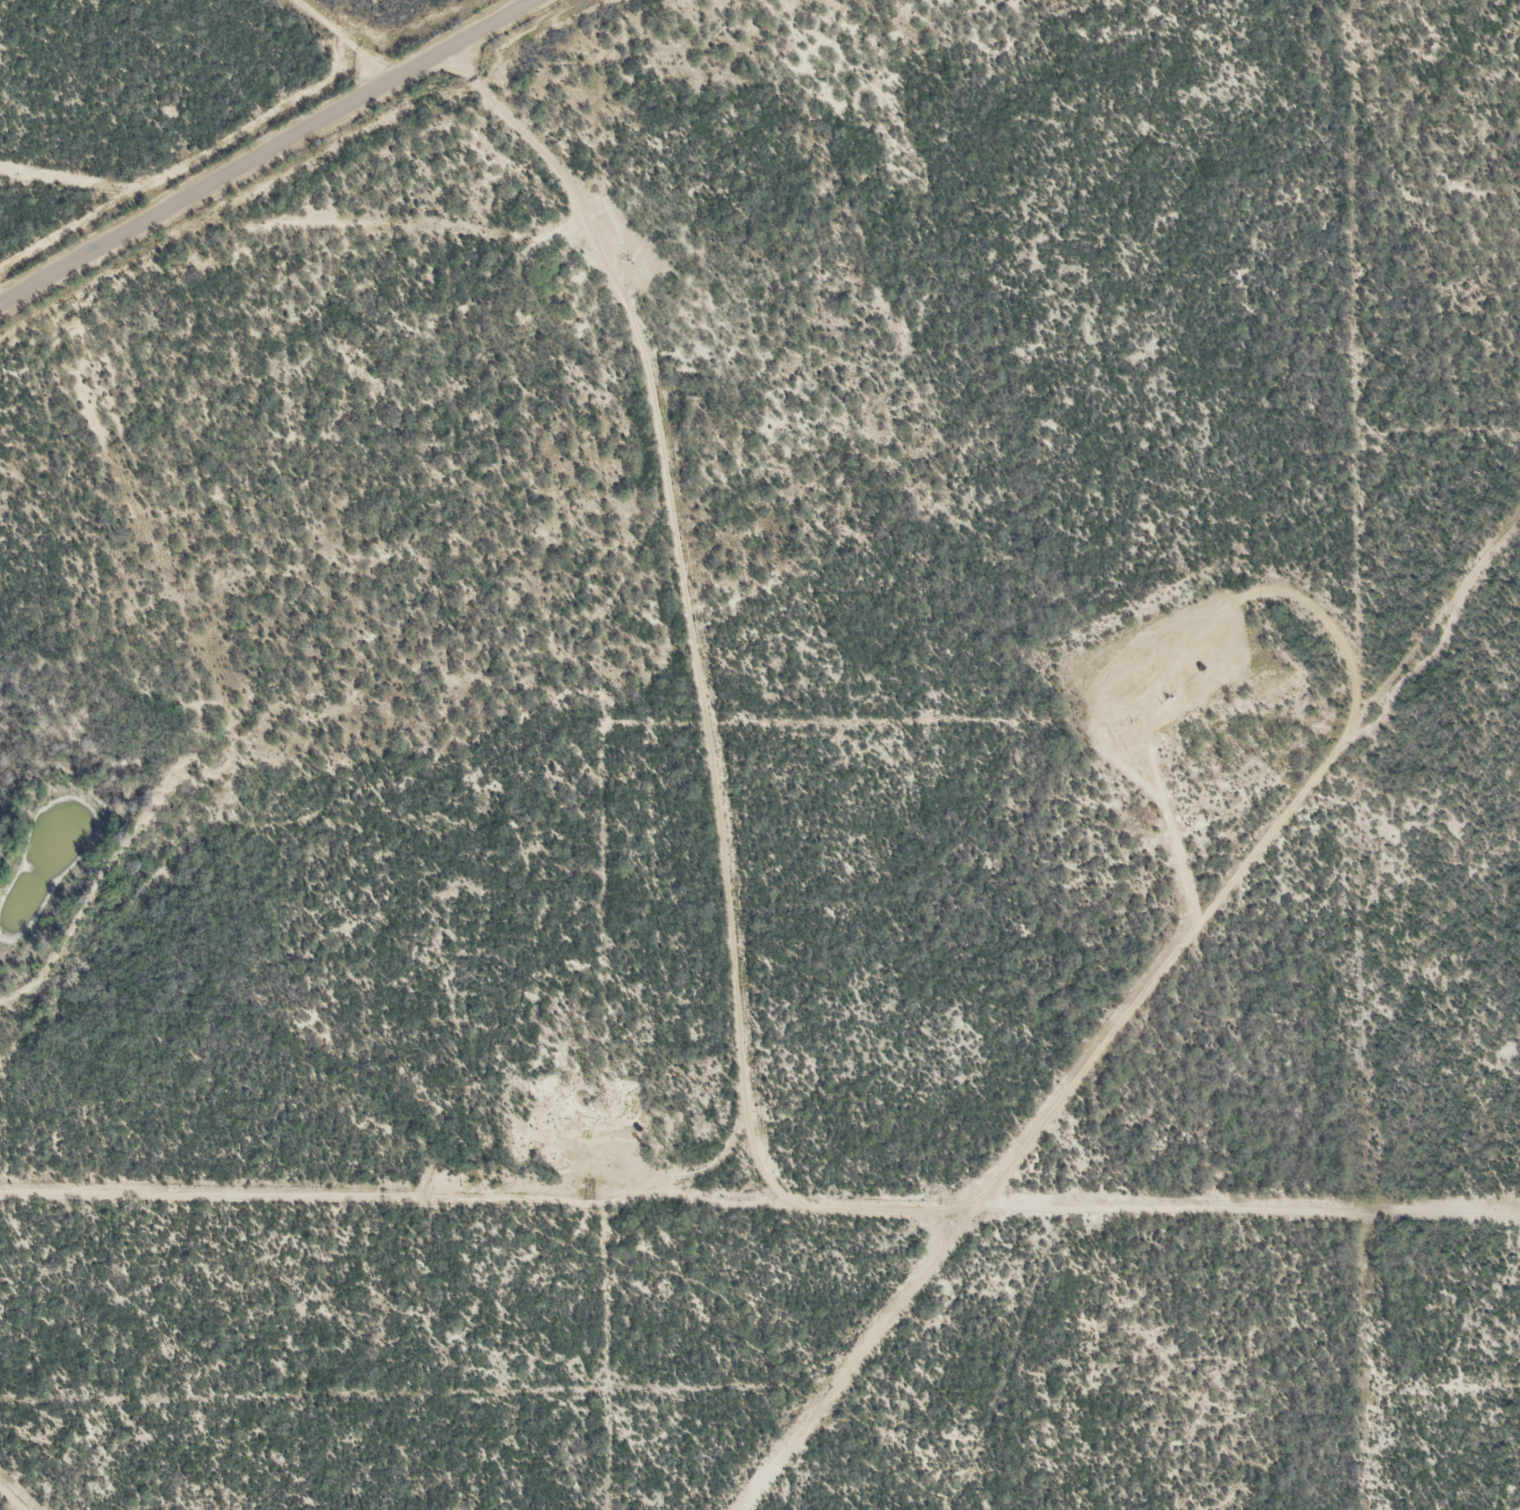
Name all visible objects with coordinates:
road: (269, 152)

